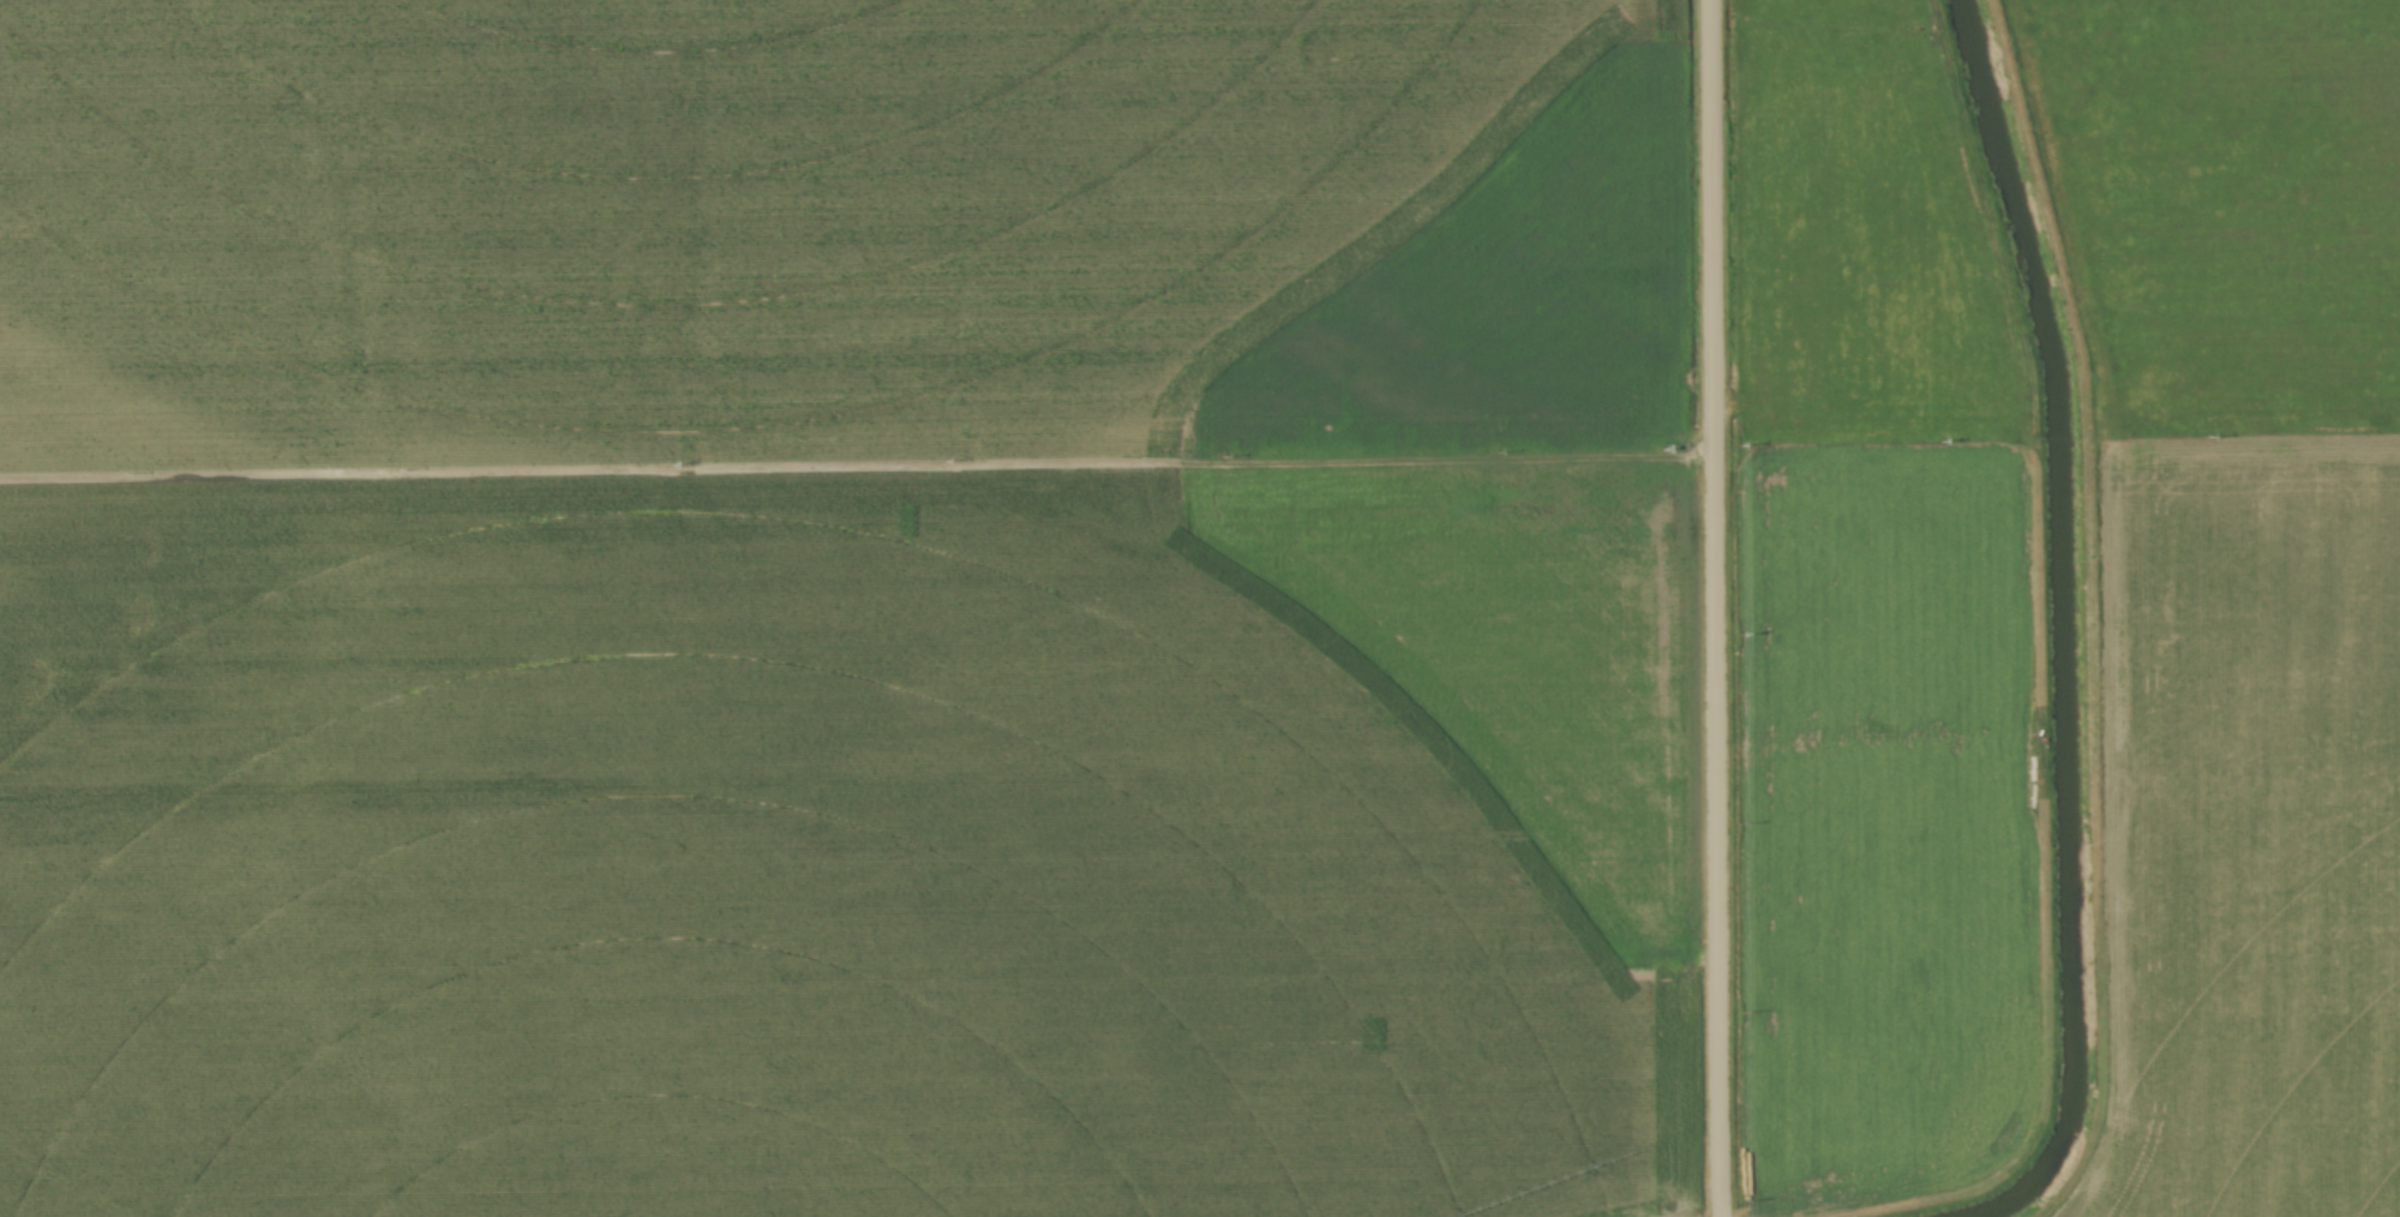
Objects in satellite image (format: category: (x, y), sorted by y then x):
crop: (2240, 578)
road: (1714, 607)
crop: (845, 608)
crop: (1873, 623)

